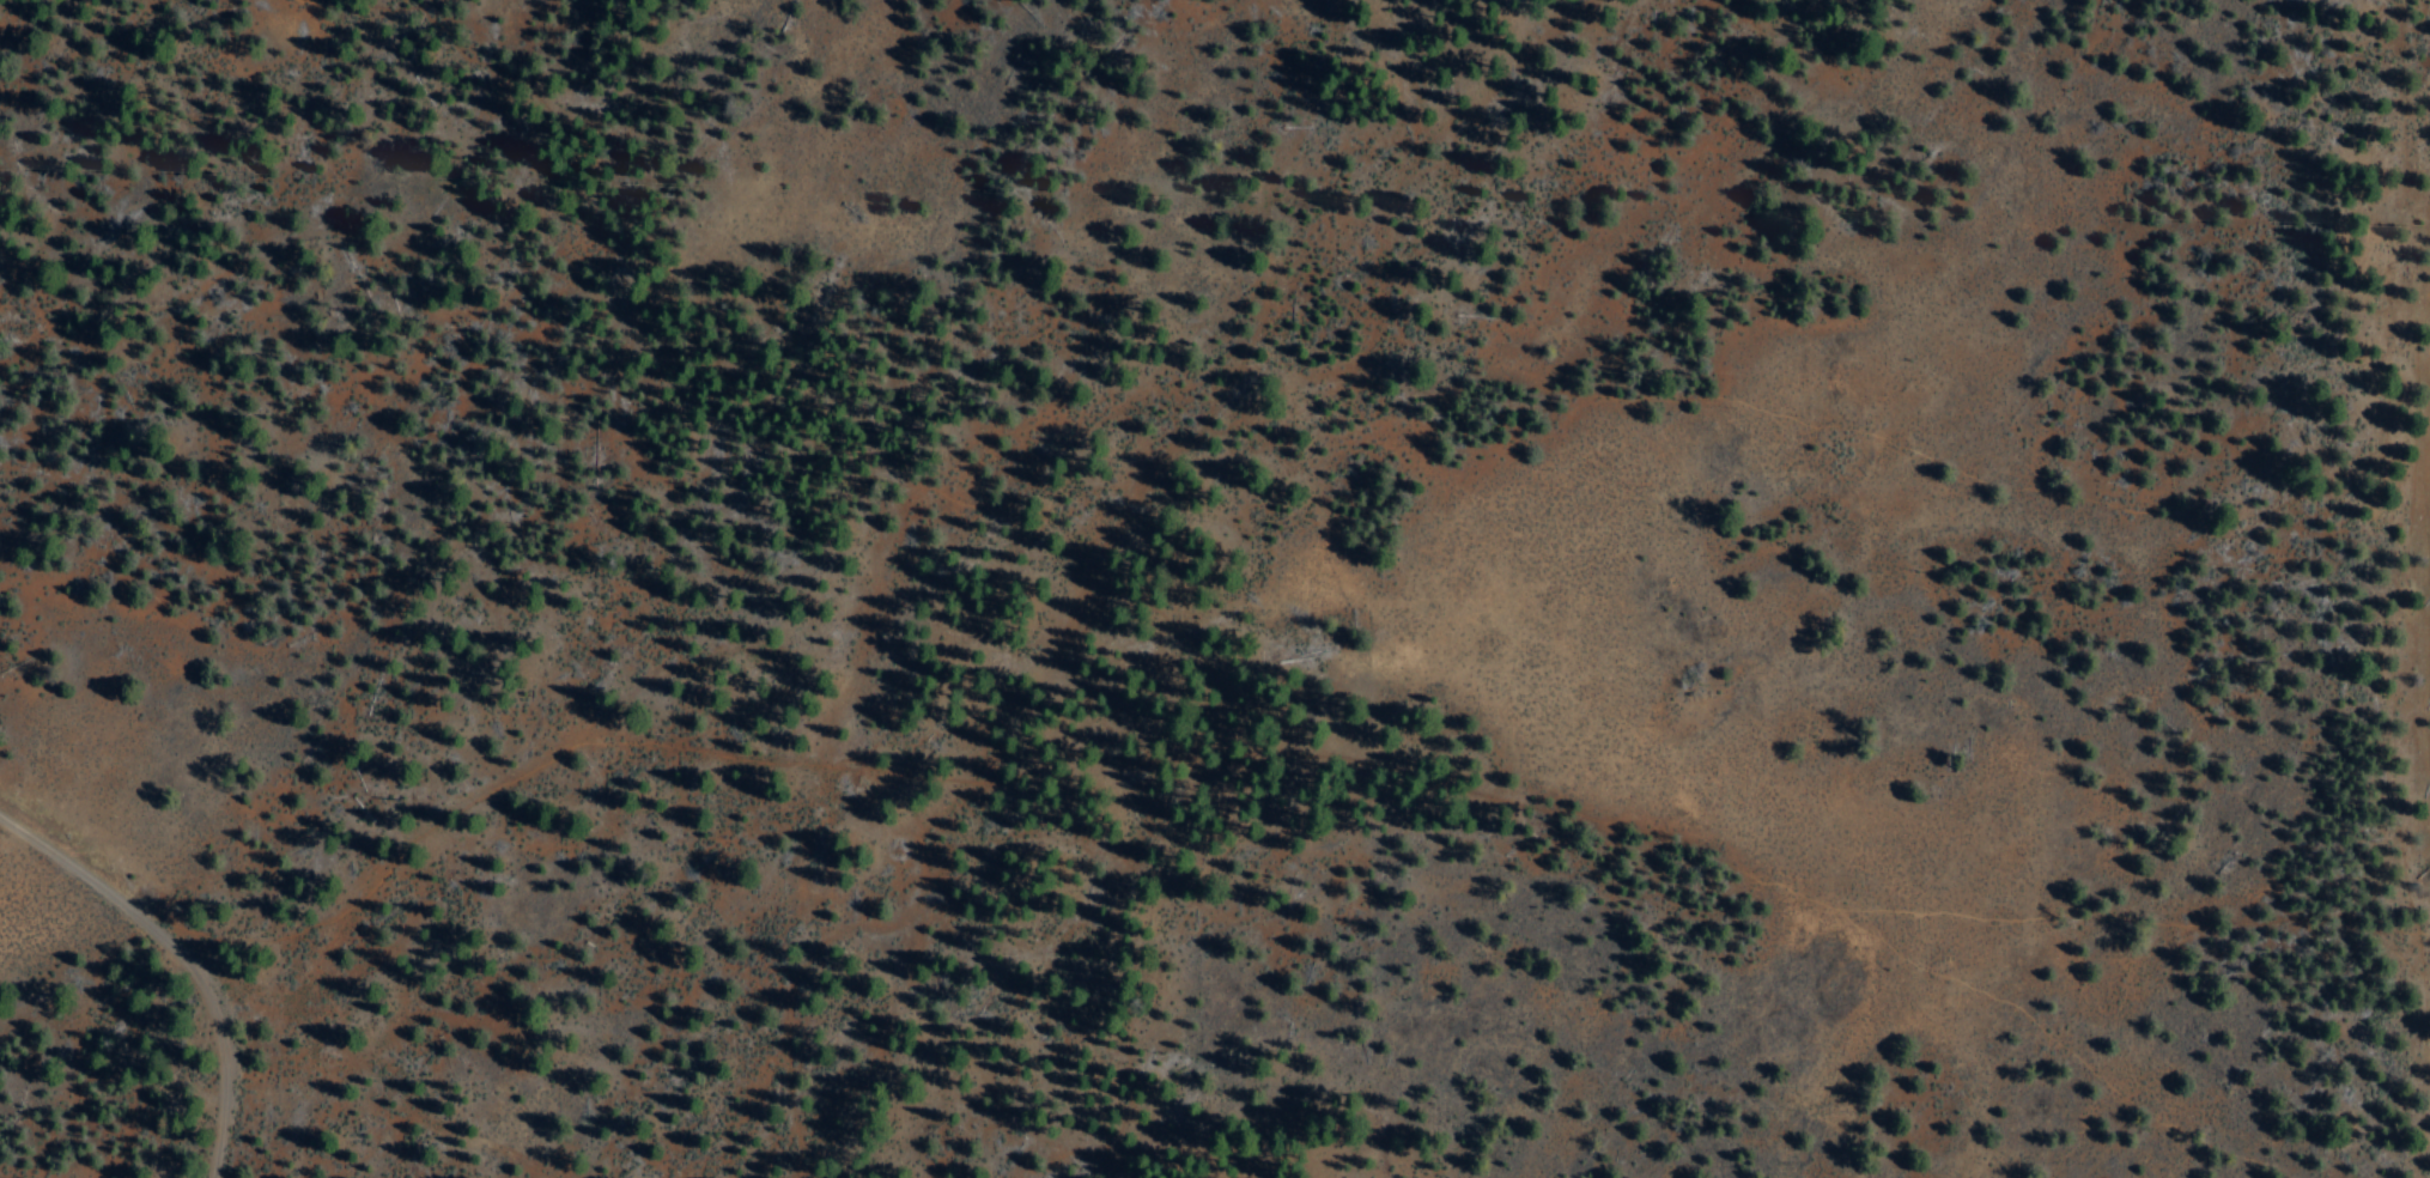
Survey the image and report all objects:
road: (186, 951)

